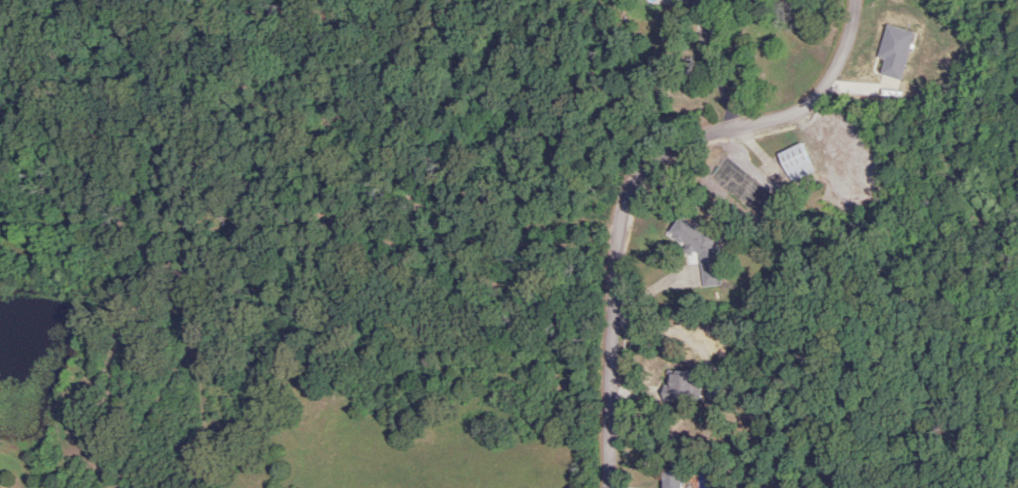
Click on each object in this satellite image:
road: (720, 65)
road: (673, 160)
building: (793, 163)
building: (697, 248)
building: (677, 386)
road: (616, 447)
building: (669, 479)

